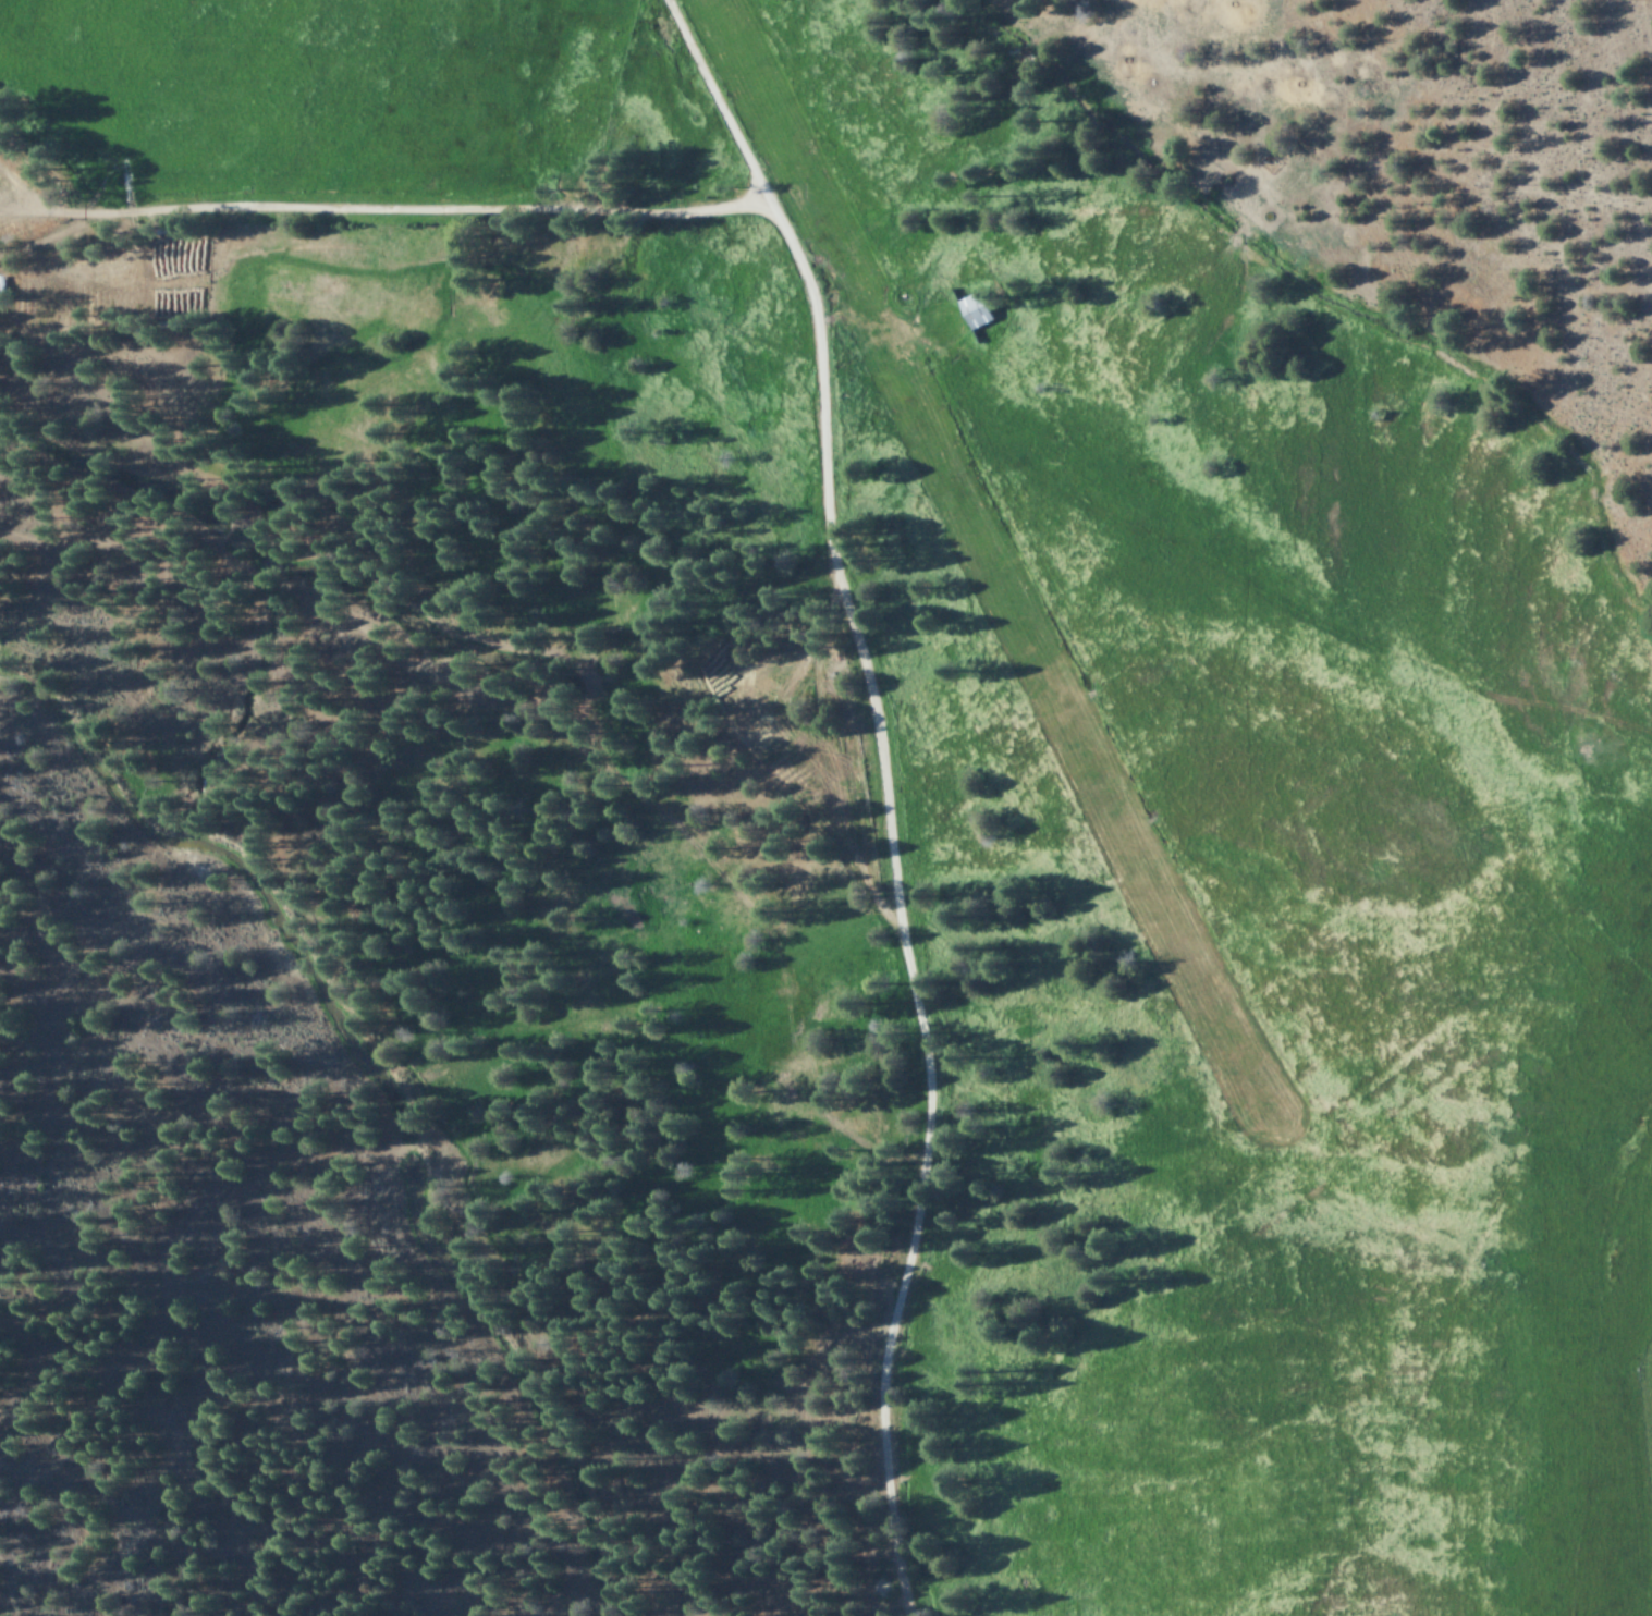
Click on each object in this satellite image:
road: (383, 207)
building: (977, 309)
road: (882, 792)

